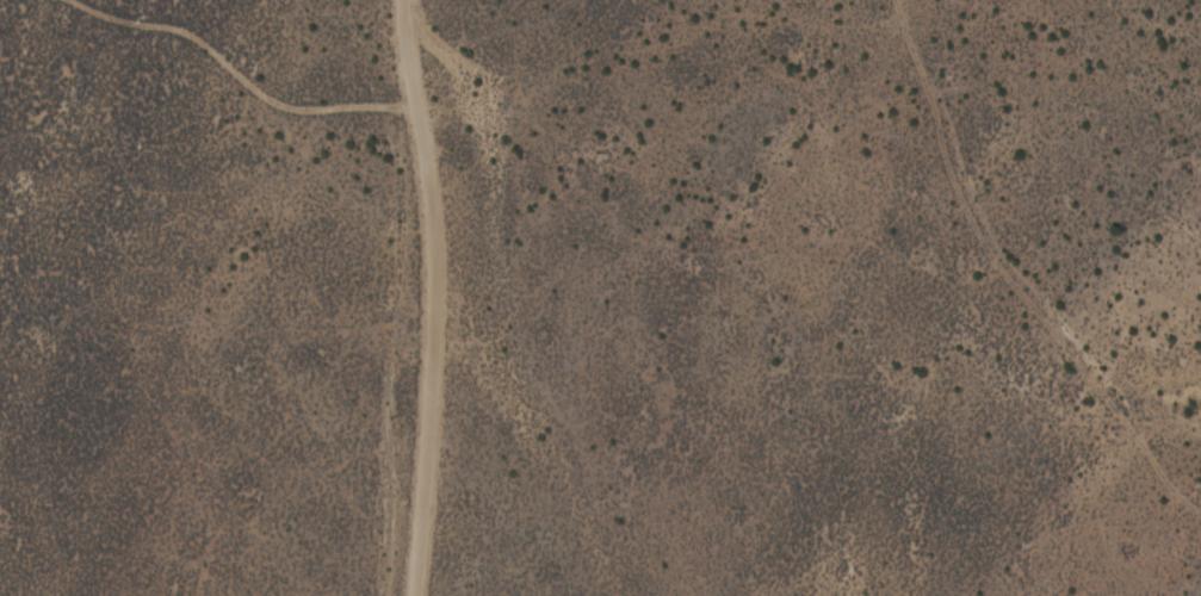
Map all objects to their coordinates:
road: (1053, 259)
road: (503, 294)

